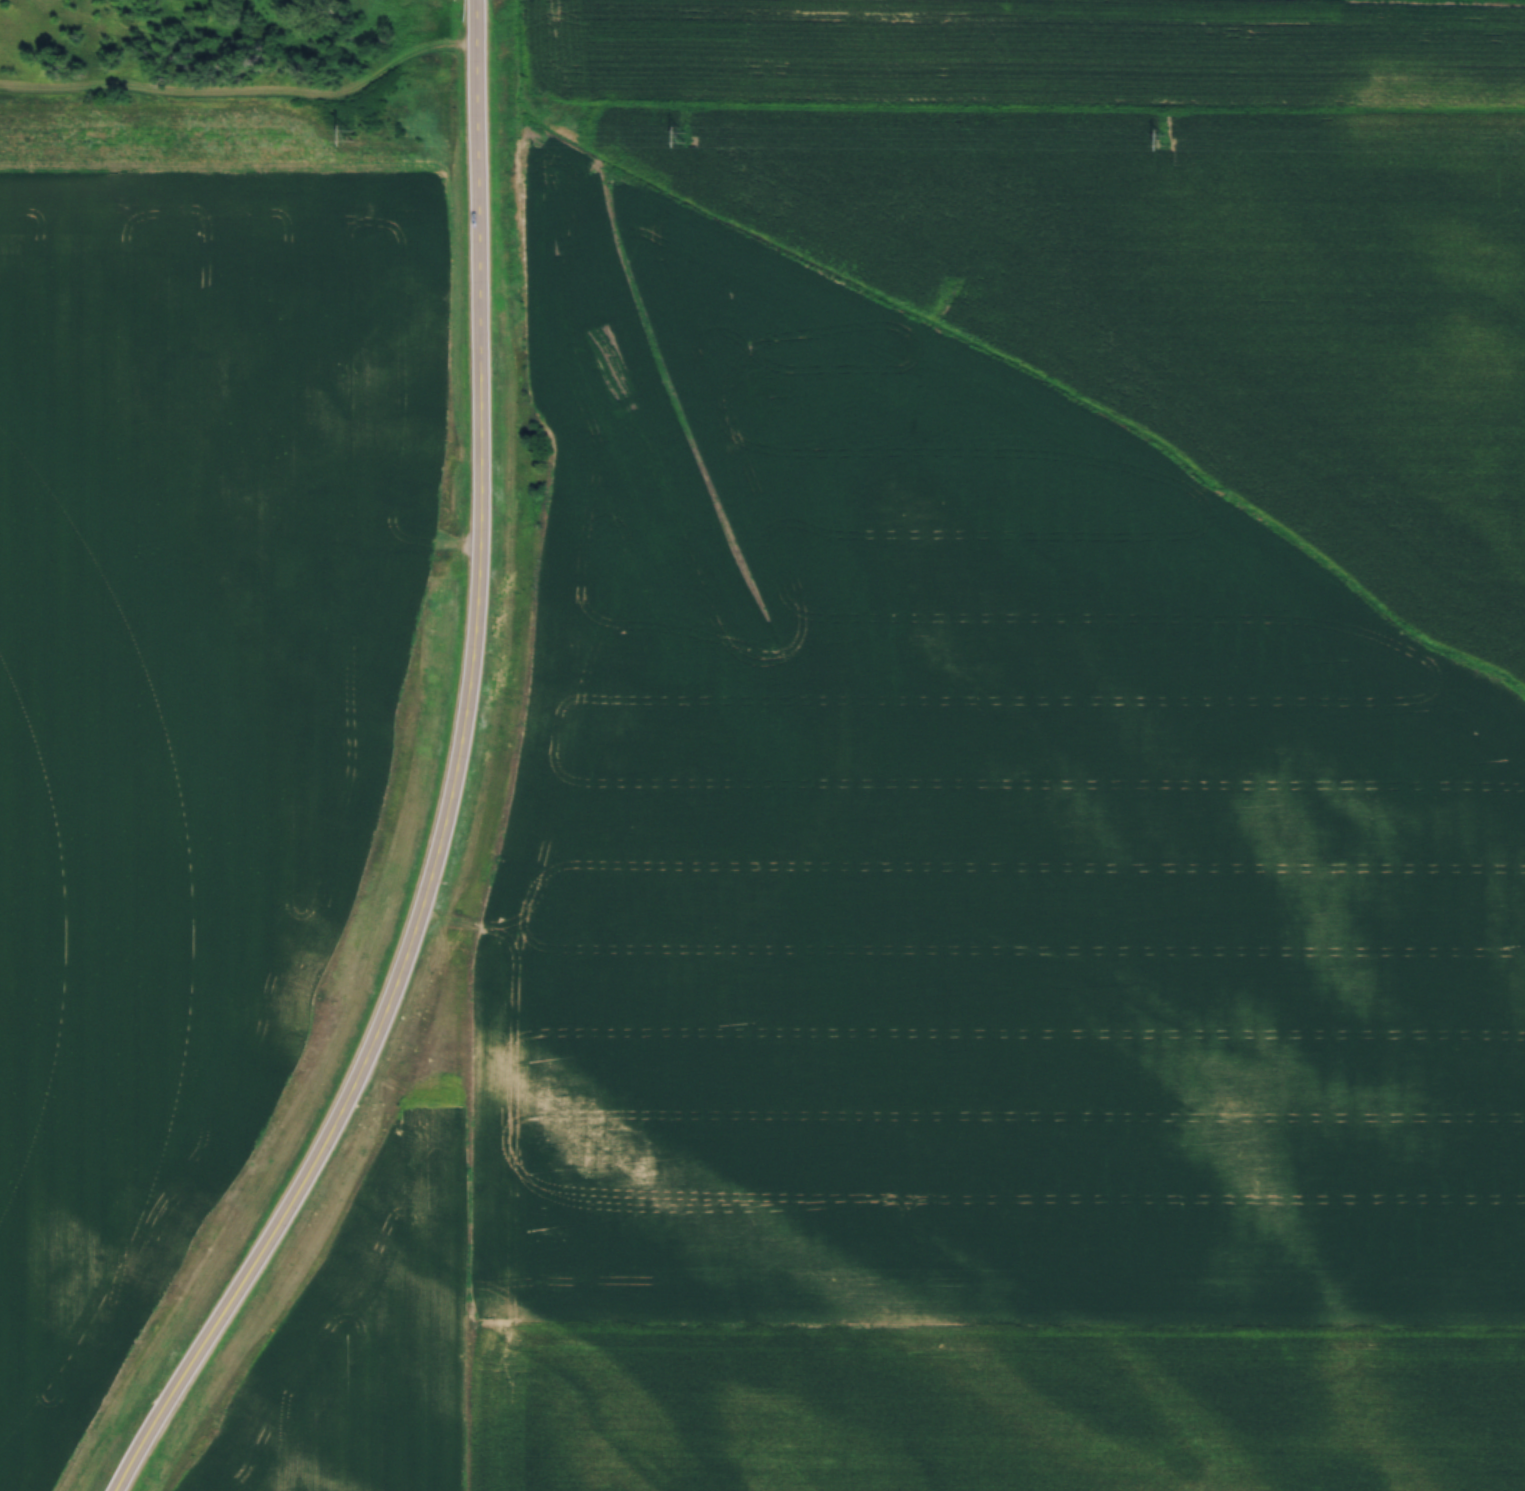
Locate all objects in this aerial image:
power tower: (353, 134)
power tower: (686, 135)
power tower: (1164, 138)
road: (458, 785)

